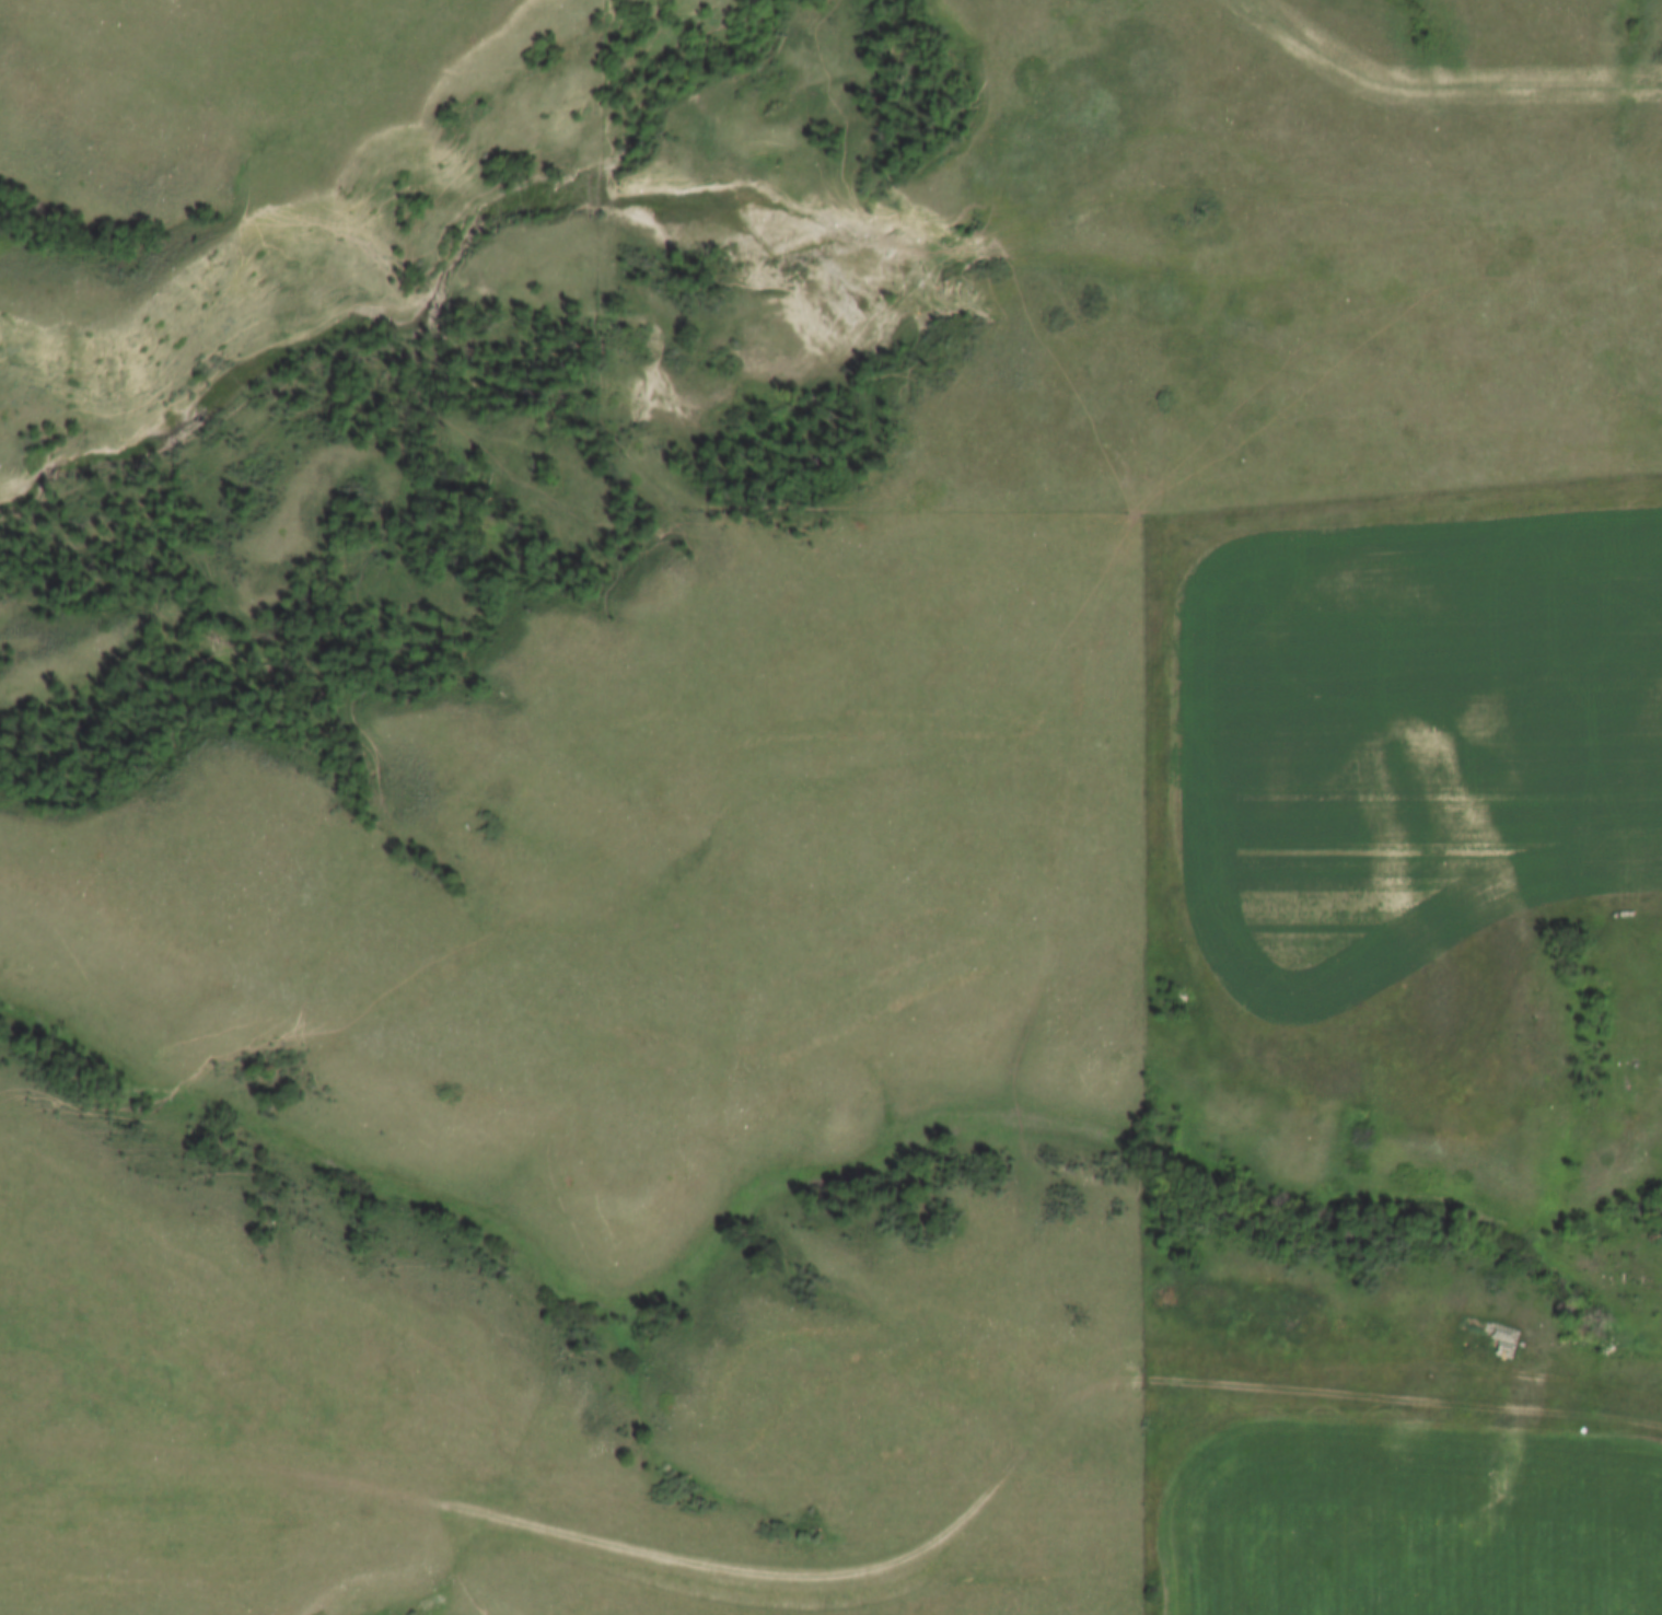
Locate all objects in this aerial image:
road: (878, 1572)

